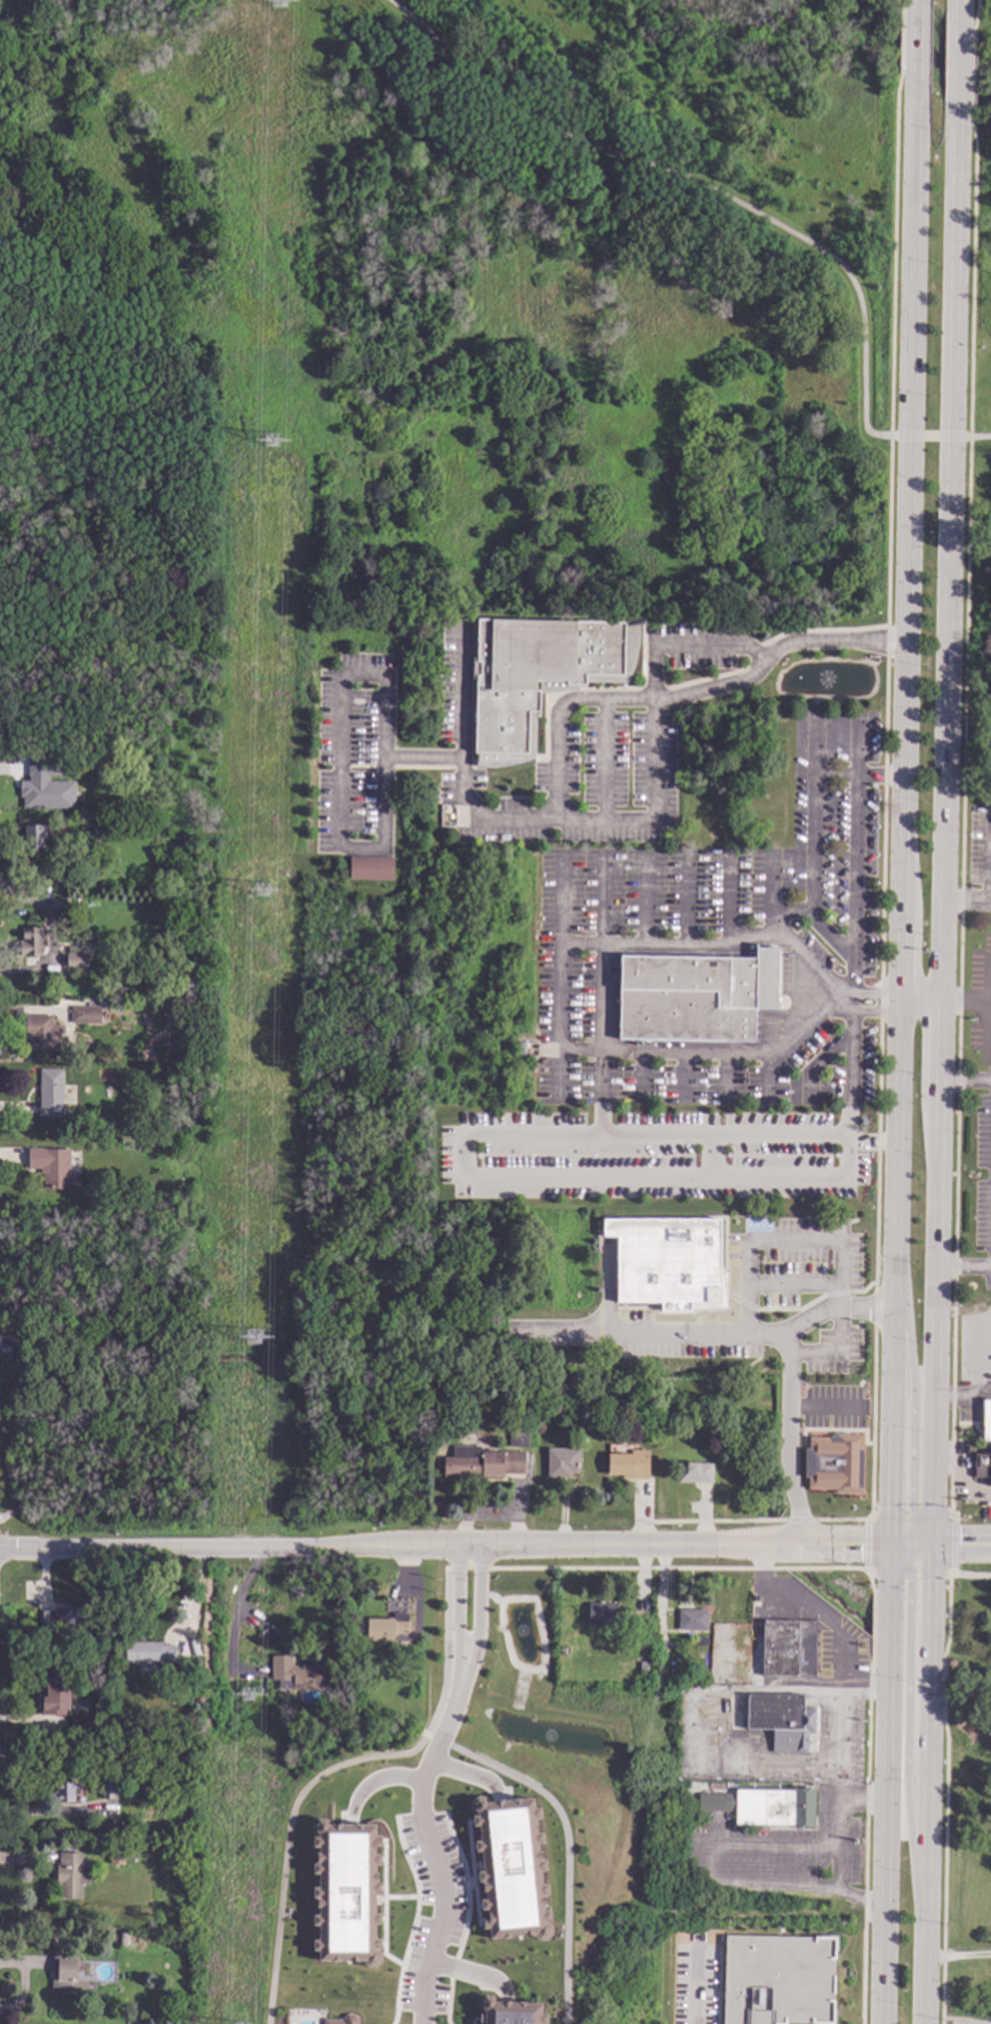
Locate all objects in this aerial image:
power tower: (282, 0)
road: (962, 12)
river: (929, 27)
road: (917, 40)
road: (960, 66)
road: (697, 184)
park: (433, 319)
road: (928, 436)
road: (977, 436)
park: (977, 440)
power tower: (273, 442)
road: (909, 536)
road: (951, 550)
road: (687, 644)
building: (538, 676)
road: (460, 691)
road: (556, 718)
road: (853, 750)
building: (56, 766)
building: (38, 767)
road: (833, 776)
road: (651, 779)
building: (40, 796)
building: (44, 835)
road: (381, 845)
building: (370, 868)
power tower: (265, 890)
road: (768, 890)
building: (57, 902)
road: (603, 902)
road: (968, 902)
road: (686, 903)
road: (643, 906)
road: (776, 912)
road: (727, 913)
building: (31, 943)
road: (843, 947)
road: (688, 949)
building: (75, 959)
road: (848, 978)
road: (922, 992)
road: (902, 993)
road: (872, 994)
road: (966, 996)
building: (694, 998)
road: (901, 1003)
road: (871, 1012)
building: (86, 1015)
building: (39, 1032)
building: (520, 1050)
road: (606, 1055)
road: (966, 1081)
building: (51, 1093)
road: (600, 1097)
road: (872, 1136)
road: (492, 1137)
building: (50, 1166)
building: (796, 1187)
building: (730, 1191)
building: (665, 1259)
road: (964, 1267)
road: (658, 1330)
power tower: (255, 1338)
road: (977, 1371)
park: (82, 1374)
road: (790, 1388)
building: (985, 1420)
building: (541, 1432)
building: (518, 1436)
road: (908, 1441)
building: (483, 1463)
building: (561, 1463)
building: (834, 1463)
building: (628, 1466)
building: (983, 1466)
building: (694, 1473)
road: (960, 1474)
road: (933, 1508)
road: (910, 1513)
road: (954, 1515)
road: (891, 1518)
road: (842, 1519)
road: (714, 1520)
road: (799, 1520)
road: (865, 1544)
road: (466, 1545)
road: (962, 1545)
traffic signals: (891, 1546)
traffic signals: (933, 1546)
road: (953, 1547)
road: (466, 1568)
road: (908, 1575)
road: (970, 1575)
road: (457, 1594)
road: (479, 1594)
road: (195, 1598)
road: (872, 1607)
building: (600, 1615)
road: (234, 1618)
building: (64, 1620)
building: (693, 1621)
building: (389, 1622)
building: (641, 1627)
building: (269, 1637)
road: (466, 1642)
building: (42, 1649)
building: (788, 1650)
building: (563, 1652)
building: (148, 1653)
road: (457, 1667)
road: (467, 1667)
building: (643, 1668)
building: (295, 1675)
building: (677, 1677)
road: (865, 1688)
road: (908, 1689)
building: (329, 1691)
building: (54, 1694)
power tower: (250, 1695)
building: (199, 1699)
road: (842, 1701)
building: (320, 1717)
building: (781, 1722)
road: (437, 1739)
road: (331, 1768)
road: (468, 1773)
road: (377, 1779)
building: (108, 1790)
building: (66, 1792)
park: (967, 1793)
road: (944, 1798)
road: (863, 1799)
road: (906, 1800)
building: (764, 1806)
building: (128, 1827)
road: (567, 1852)
road: (433, 1855)
building: (116, 1857)
road: (711, 1867)
building: (510, 1868)
building: (71, 1876)
road: (467, 1883)
building: (345, 1892)
road: (864, 1902)
road: (414, 1919)
building: (123, 1940)
road: (957, 1955)
road: (452, 1967)
road: (414, 1969)
road: (471, 1973)
building: (66, 1976)
building: (777, 1980)
parking lot: (695, 1985)
road: (696, 1986)
road: (447, 2001)
building: (508, 2012)
road: (882, 2018)
building: (342, 2020)

